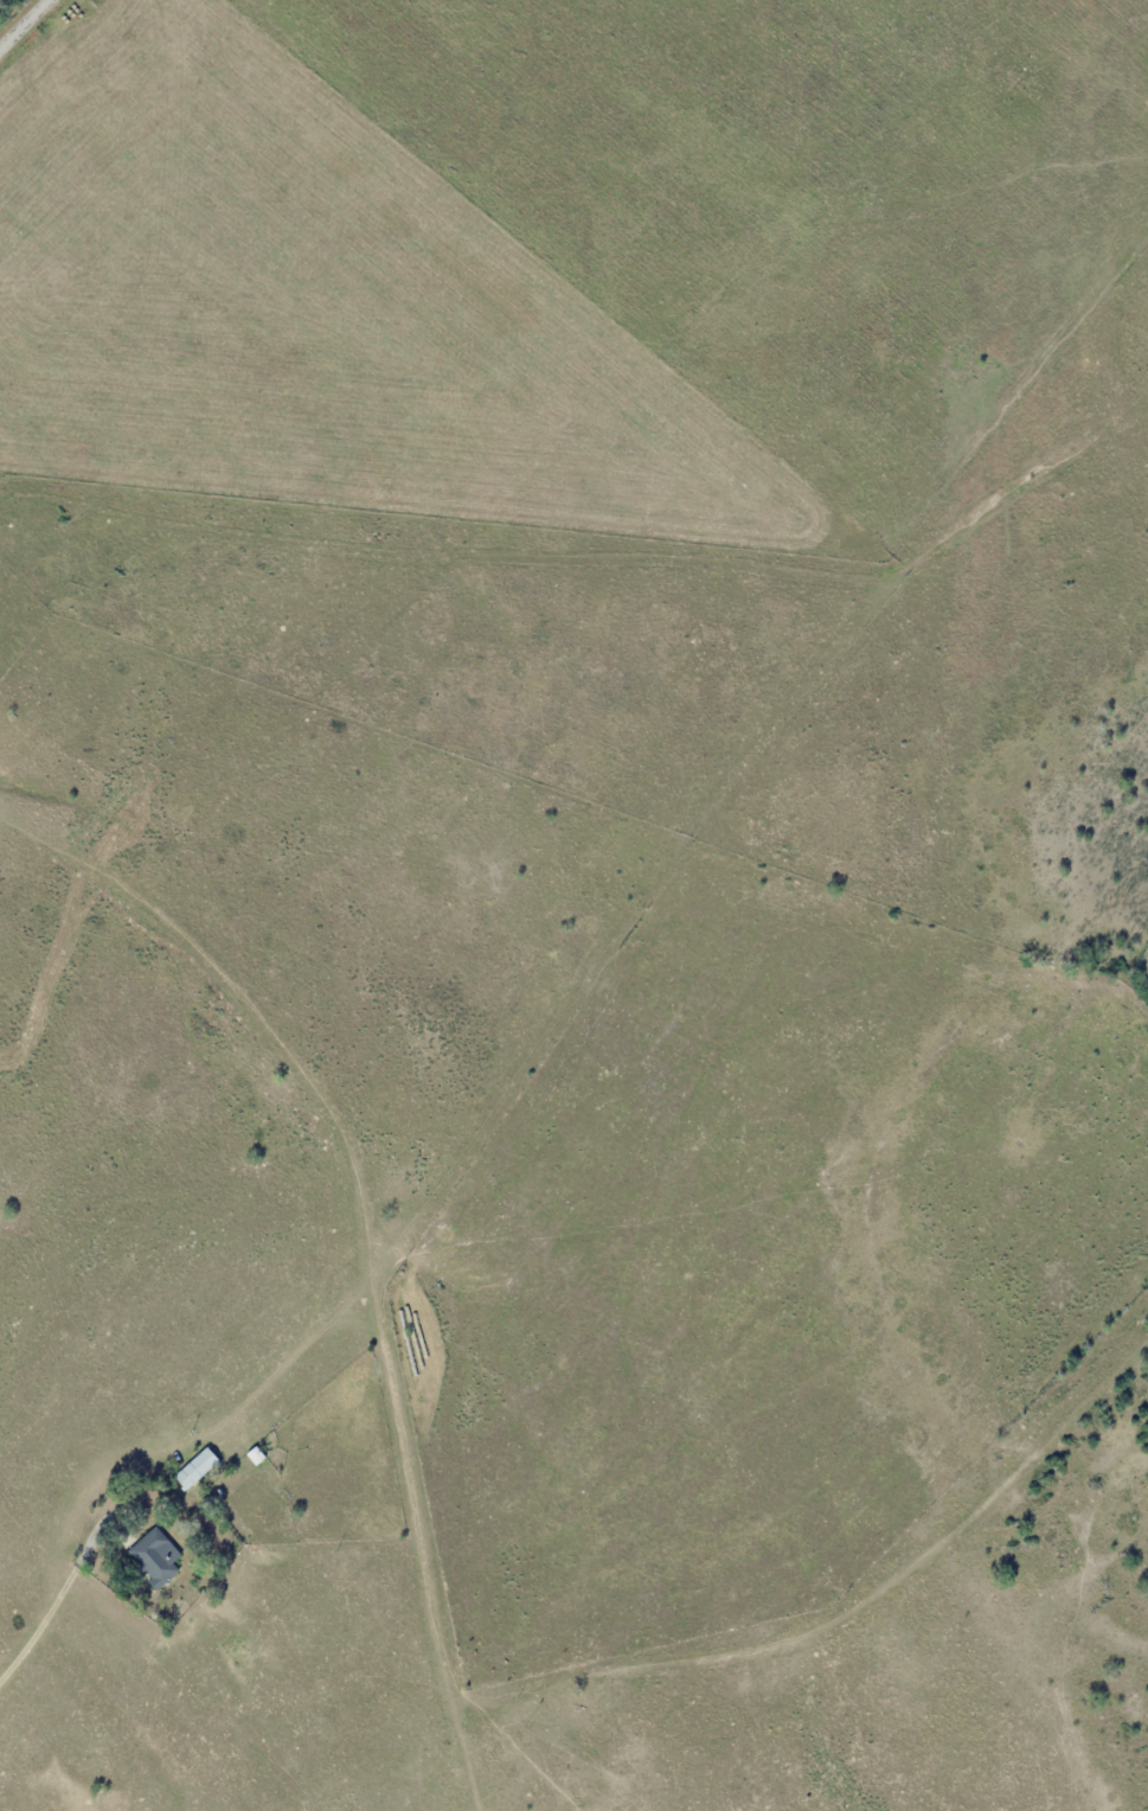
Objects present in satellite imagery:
road: (24, 24)
building: (195, 1467)
building: (153, 1557)

